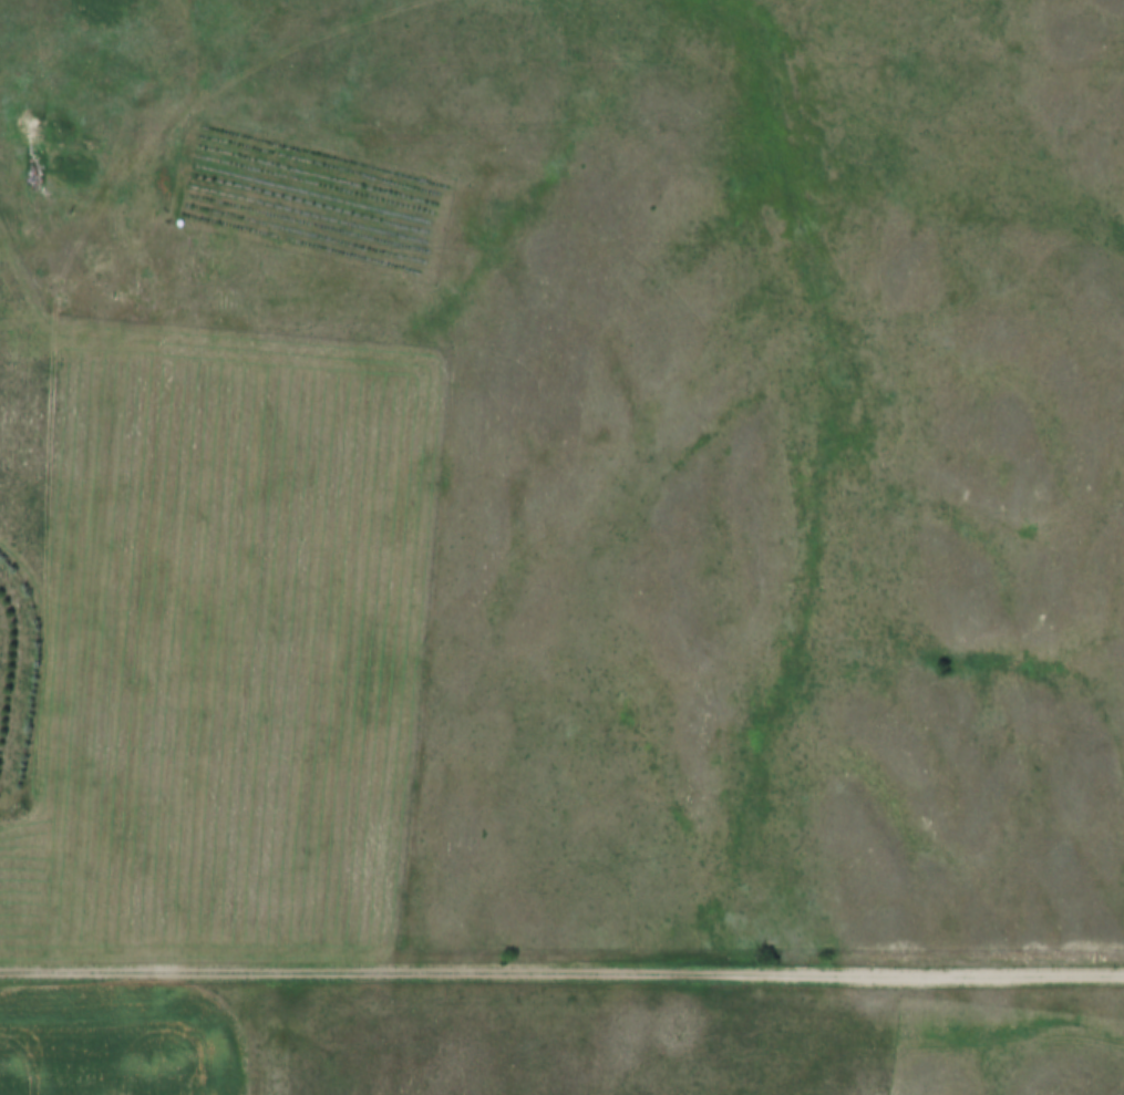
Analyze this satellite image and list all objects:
road: (561, 974)

